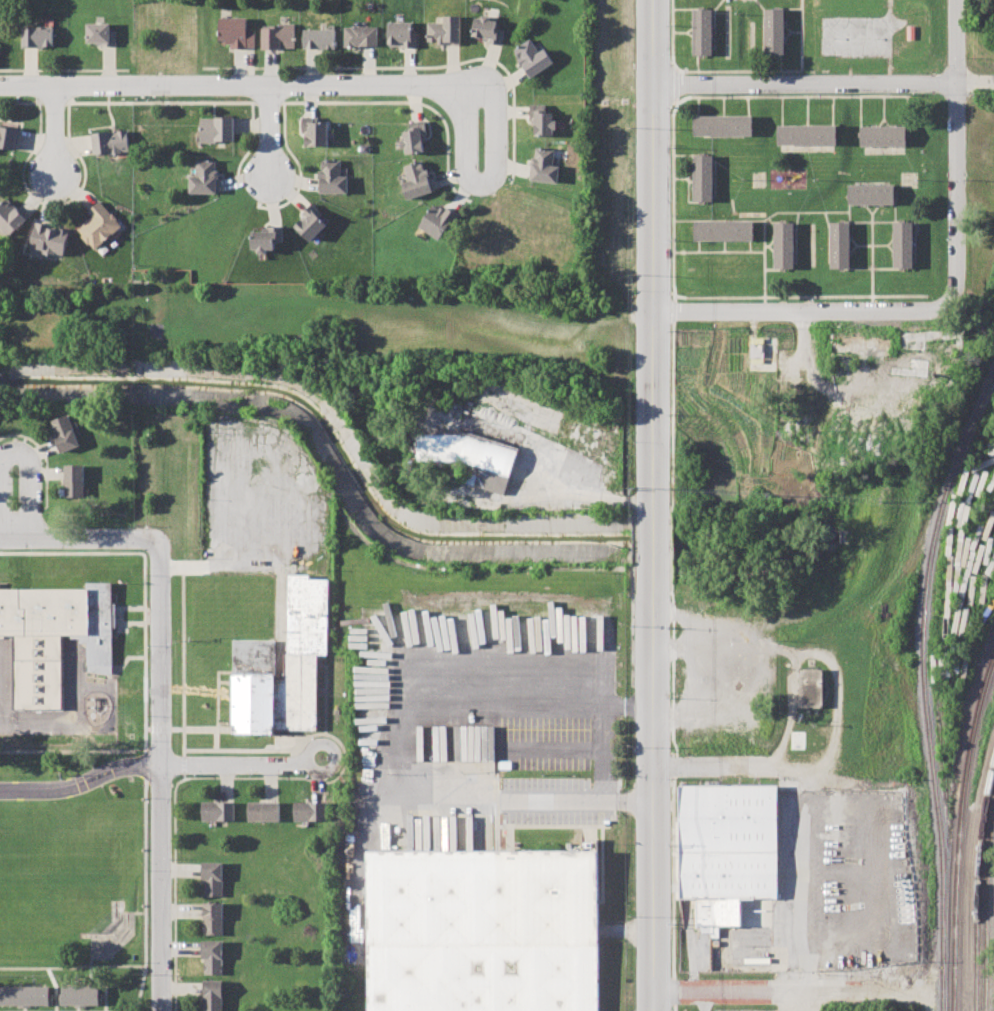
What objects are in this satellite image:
building: (486, 29)
building: (443, 30)
building: (774, 31)
building: (235, 32)
building: (701, 32)
building: (99, 34)
building: (400, 34)
building: (359, 35)
building: (36, 36)
building: (276, 36)
building: (318, 38)
building: (531, 57)
road: (823, 83)
road: (253, 84)
road: (698, 105)
road: (724, 105)
road: (748, 105)
road: (782, 110)
road: (807, 110)
road: (833, 110)
road: (860, 110)
road: (883, 110)
building: (540, 121)
road: (886, 122)
building: (723, 125)
road: (54, 128)
building: (216, 128)
road: (268, 131)
building: (314, 132)
building: (807, 134)
building: (883, 135)
building: (413, 137)
building: (8, 138)
building: (109, 142)
road: (672, 145)
road: (956, 153)
building: (543, 165)
road: (493, 173)
building: (330, 176)
building: (203, 177)
road: (688, 177)
building: (702, 177)
road: (680, 178)
building: (415, 180)
building: (871, 194)
road: (868, 208)
road: (848, 209)
road: (895, 209)
road: (804, 211)
building: (10, 217)
road: (826, 218)
building: (436, 220)
road: (763, 220)
road: (795, 220)
road: (772, 221)
road: (871, 221)
building: (309, 223)
building: (98, 225)
building: (723, 231)
building: (266, 238)
building: (49, 239)
road: (770, 242)
building: (782, 244)
building: (839, 244)
road: (870, 244)
building: (903, 244)
road: (768, 245)
road: (698, 246)
road: (724, 246)
road: (749, 246)
road: (890, 247)
road: (853, 248)
road: (718, 251)
road: (652, 254)
road: (872, 255)
road: (872, 268)
road: (772, 269)
road: (800, 296)
road: (799, 310)
building: (752, 353)
building: (66, 433)
building: (471, 449)
road: (15, 452)
building: (74, 481)
road: (70, 536)
road: (652, 537)
road: (120, 615)
building: (65, 617)
road: (676, 647)
road: (145, 651)
building: (255, 653)
road: (125, 659)
road: (701, 667)
railway: (923, 685)
building: (811, 687)
building: (484, 741)
road: (144, 757)
road: (724, 759)
road: (241, 764)
road: (160, 768)
road: (80, 781)
road: (655, 787)
road: (533, 800)
building: (263, 810)
building: (310, 810)
building: (218, 811)
railway: (958, 830)
building: (730, 851)
park: (54, 869)
building: (213, 878)
park: (77, 881)
road: (794, 885)
railway: (977, 889)
railway: (986, 914)
building: (213, 918)
building: (482, 931)
building: (212, 956)
road: (796, 987)
building: (81, 994)
building: (26, 995)
building: (213, 996)

